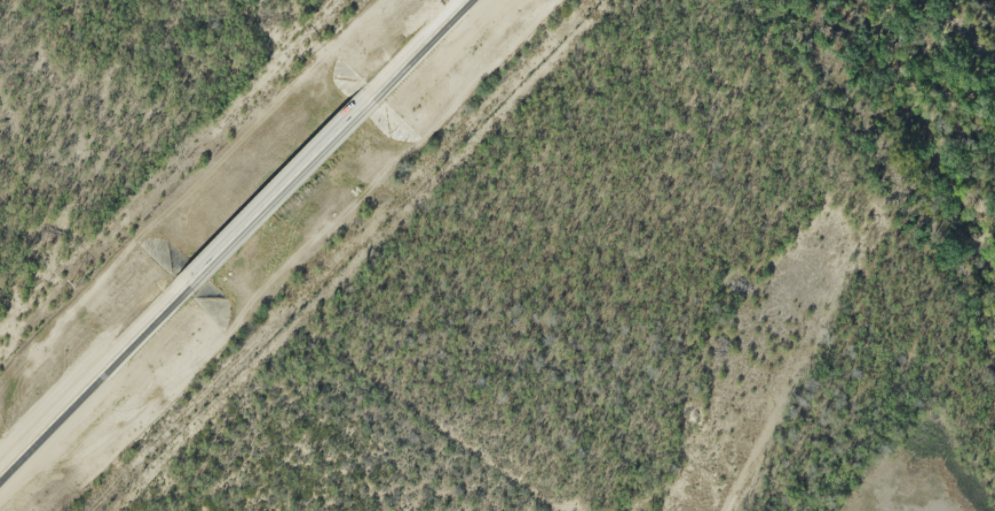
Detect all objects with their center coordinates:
river: (993, 1)
power tower: (297, 54)
road: (234, 239)
power tower: (72, 284)

